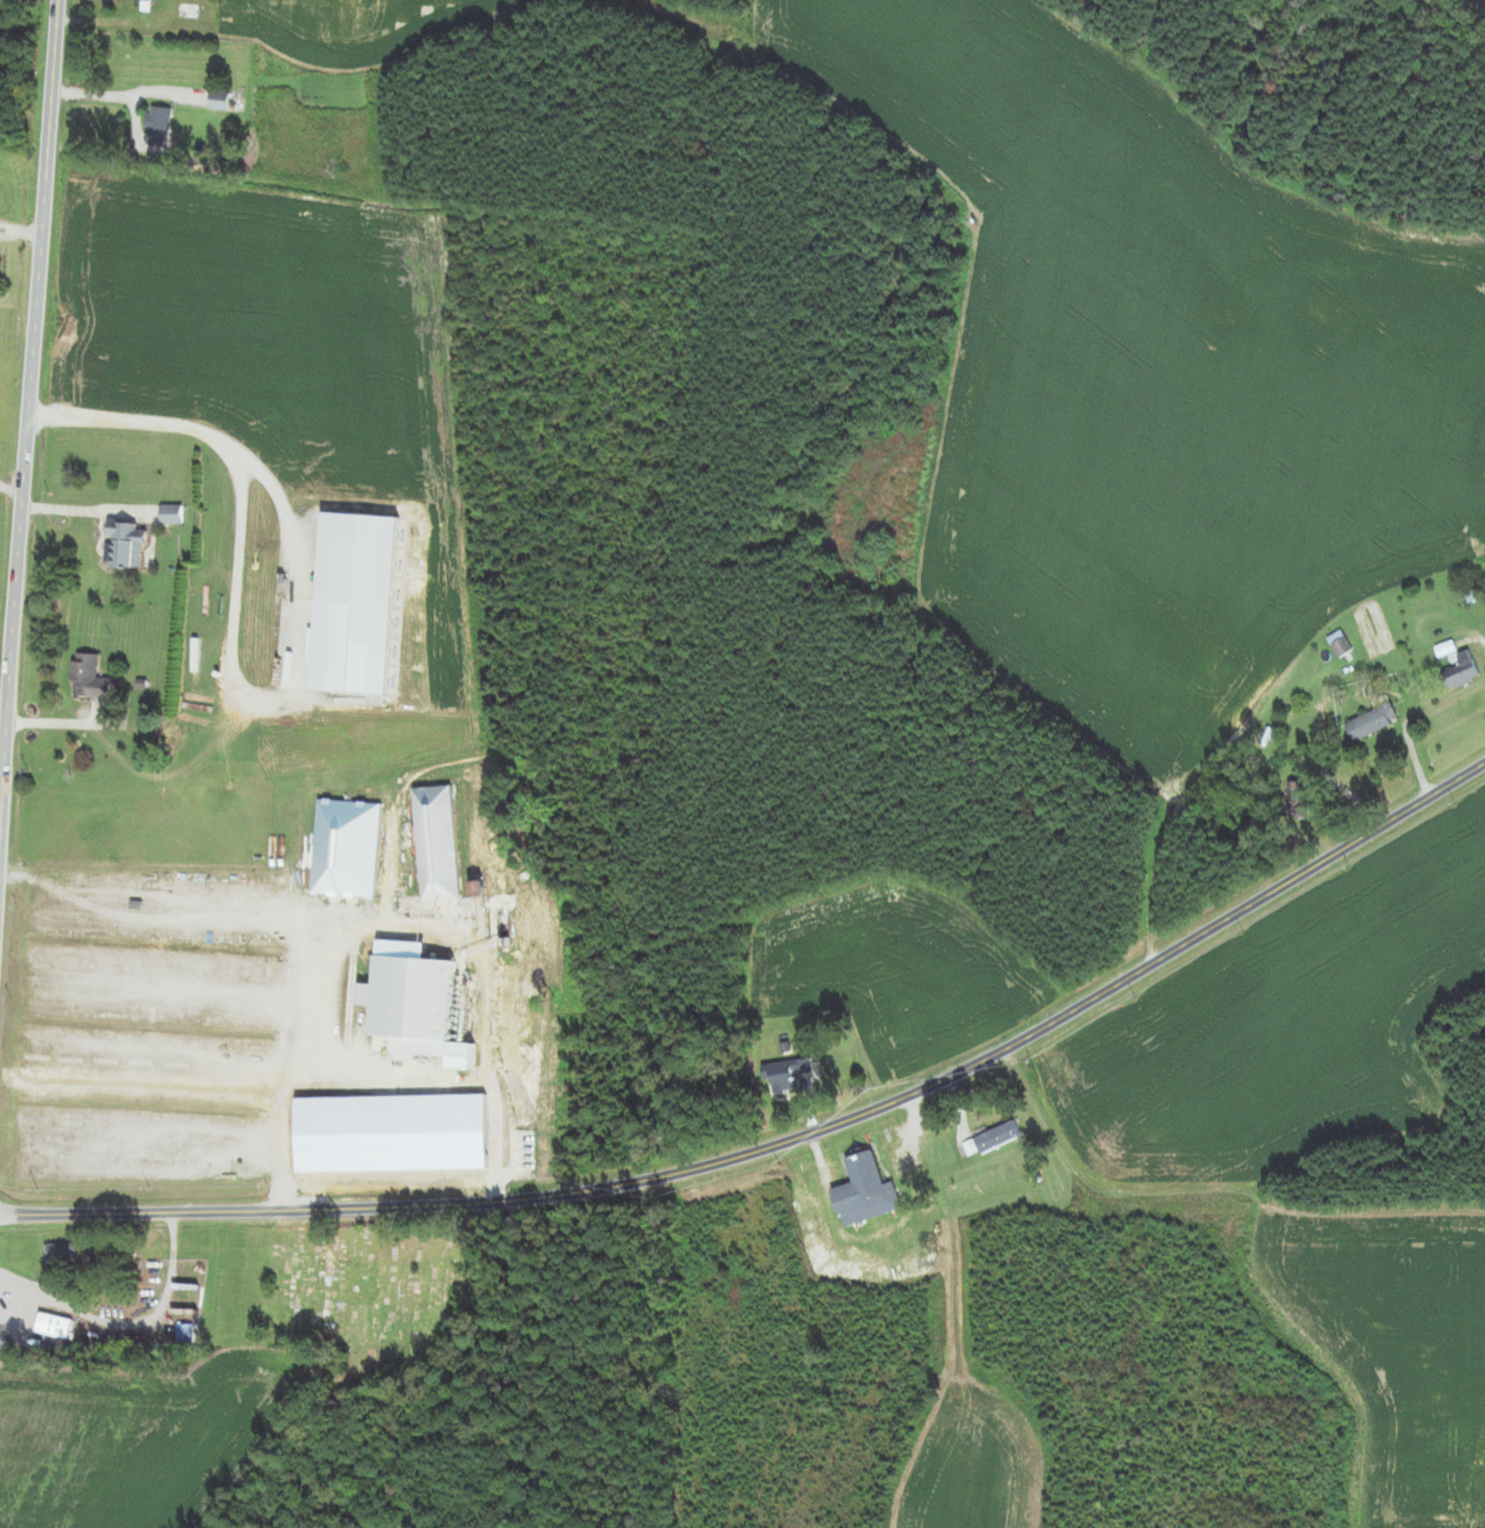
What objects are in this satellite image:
building: (143, 1)
building: (219, 100)
building: (158, 126)
road: (27, 424)
road: (83, 509)
building: (171, 514)
building: (125, 545)
building: (1345, 645)
building: (85, 668)
building: (1463, 670)
building: (1372, 722)
building: (1295, 793)
power tower: (1456, 801)
building: (437, 843)
power tower: (1348, 866)
power tower: (1244, 930)
power tower: (1136, 995)
building: (411, 1006)
power tower: (1031, 1061)
building: (788, 1075)
power tower: (876, 1089)
building: (997, 1137)
road: (787, 1140)
power tower: (779, 1166)
power tower: (536, 1178)
power tower: (444, 1181)
power tower: (353, 1182)
power tower: (265, 1185)
power tower: (148, 1188)
power tower: (35, 1190)
building: (865, 1190)
power tower: (654, 1199)
building: (59, 1255)
building: (53, 1326)
building: (184, 1333)

